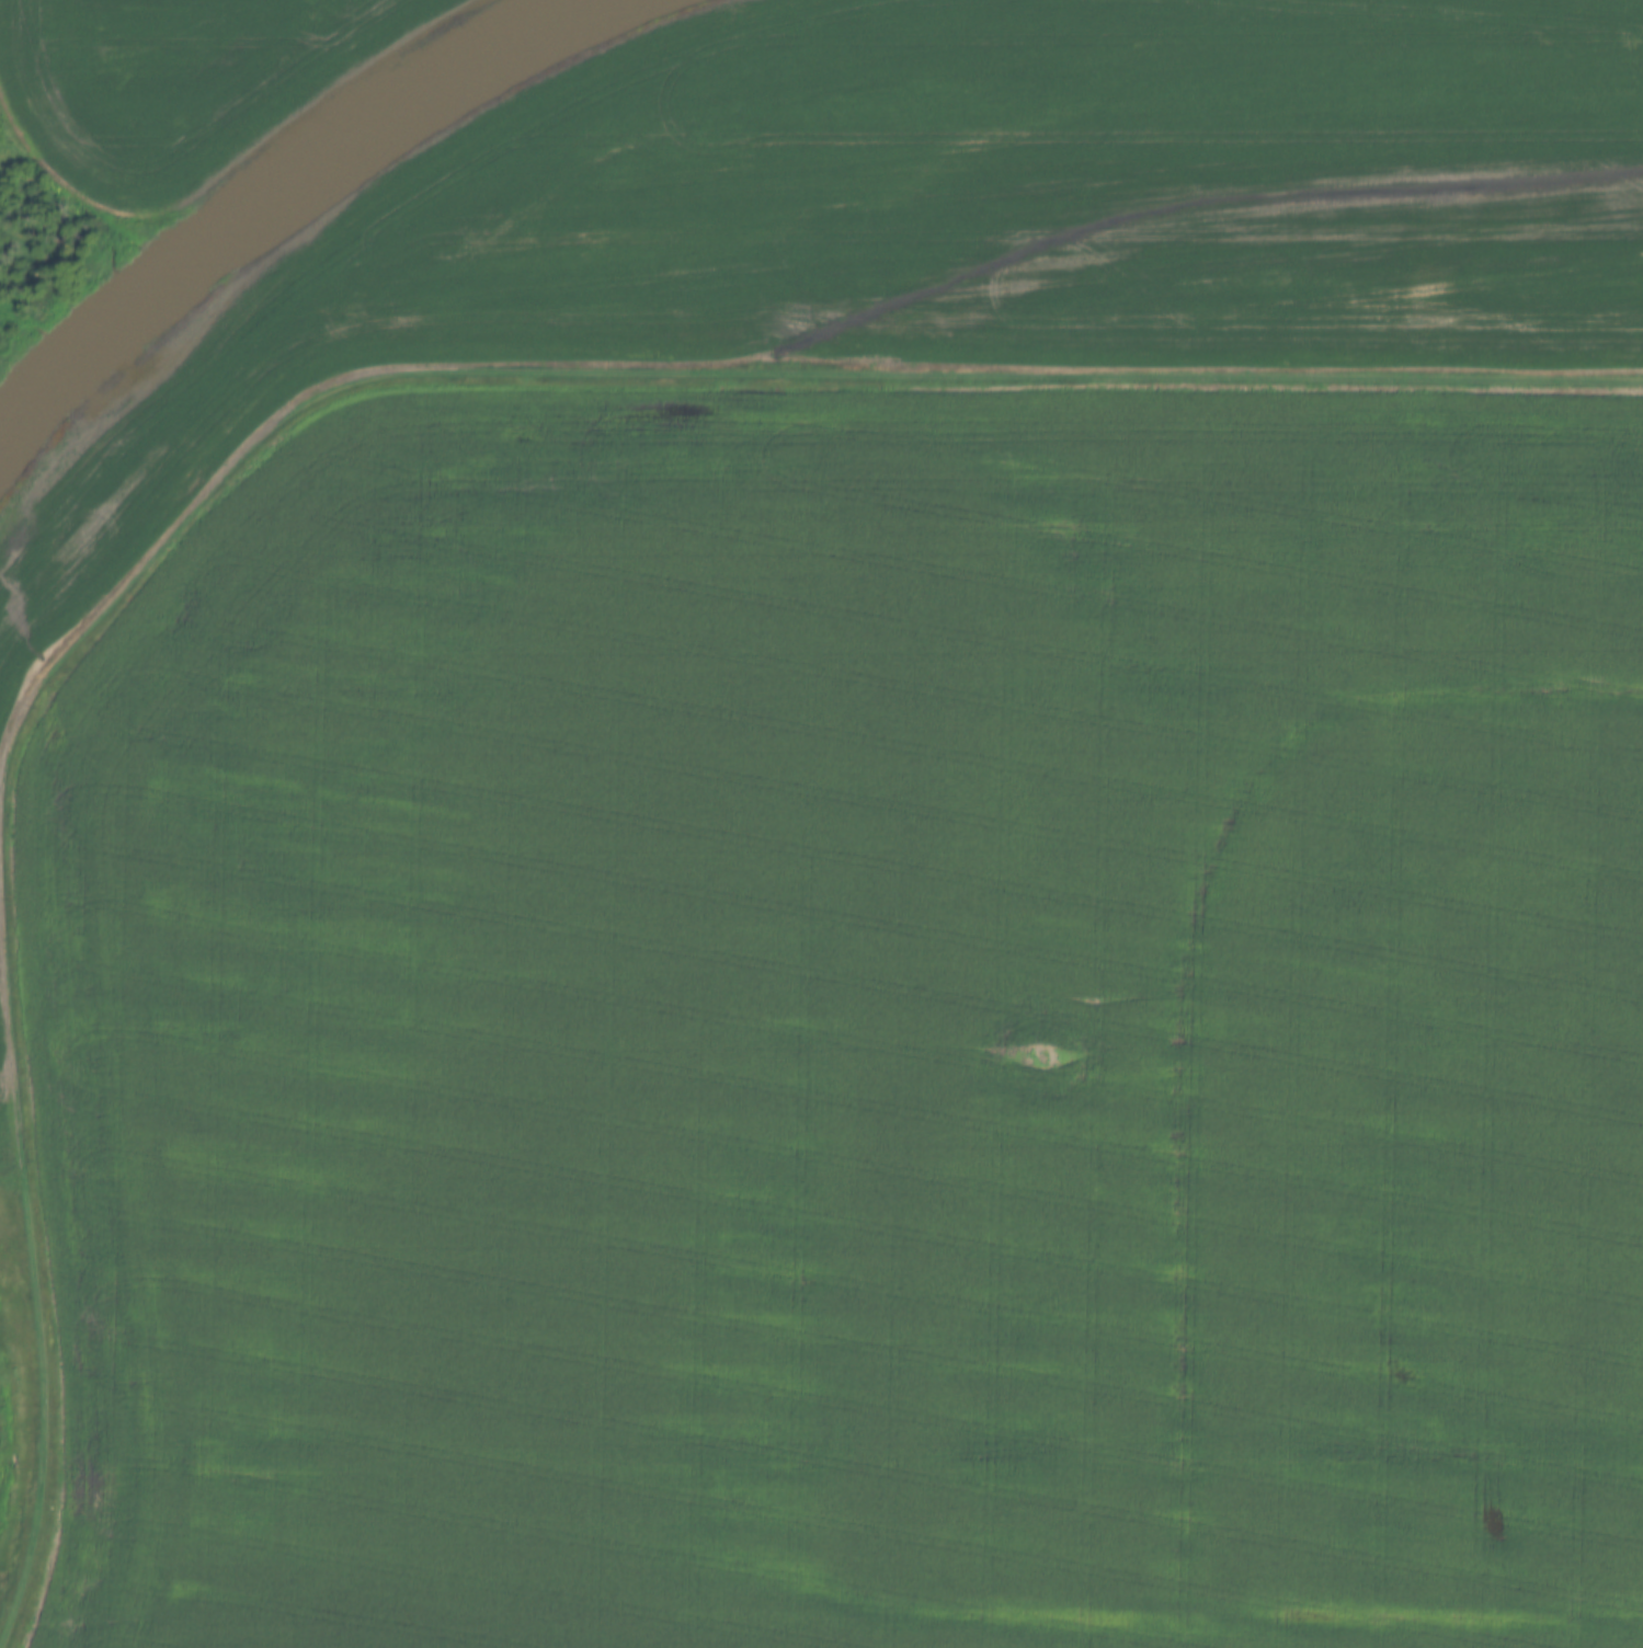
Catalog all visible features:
crop: (185, 83)
river: (324, 161)
crop: (970, 216)
road: (721, 374)
river: (33, 417)
crop: (854, 1030)
road: (30, 1278)

